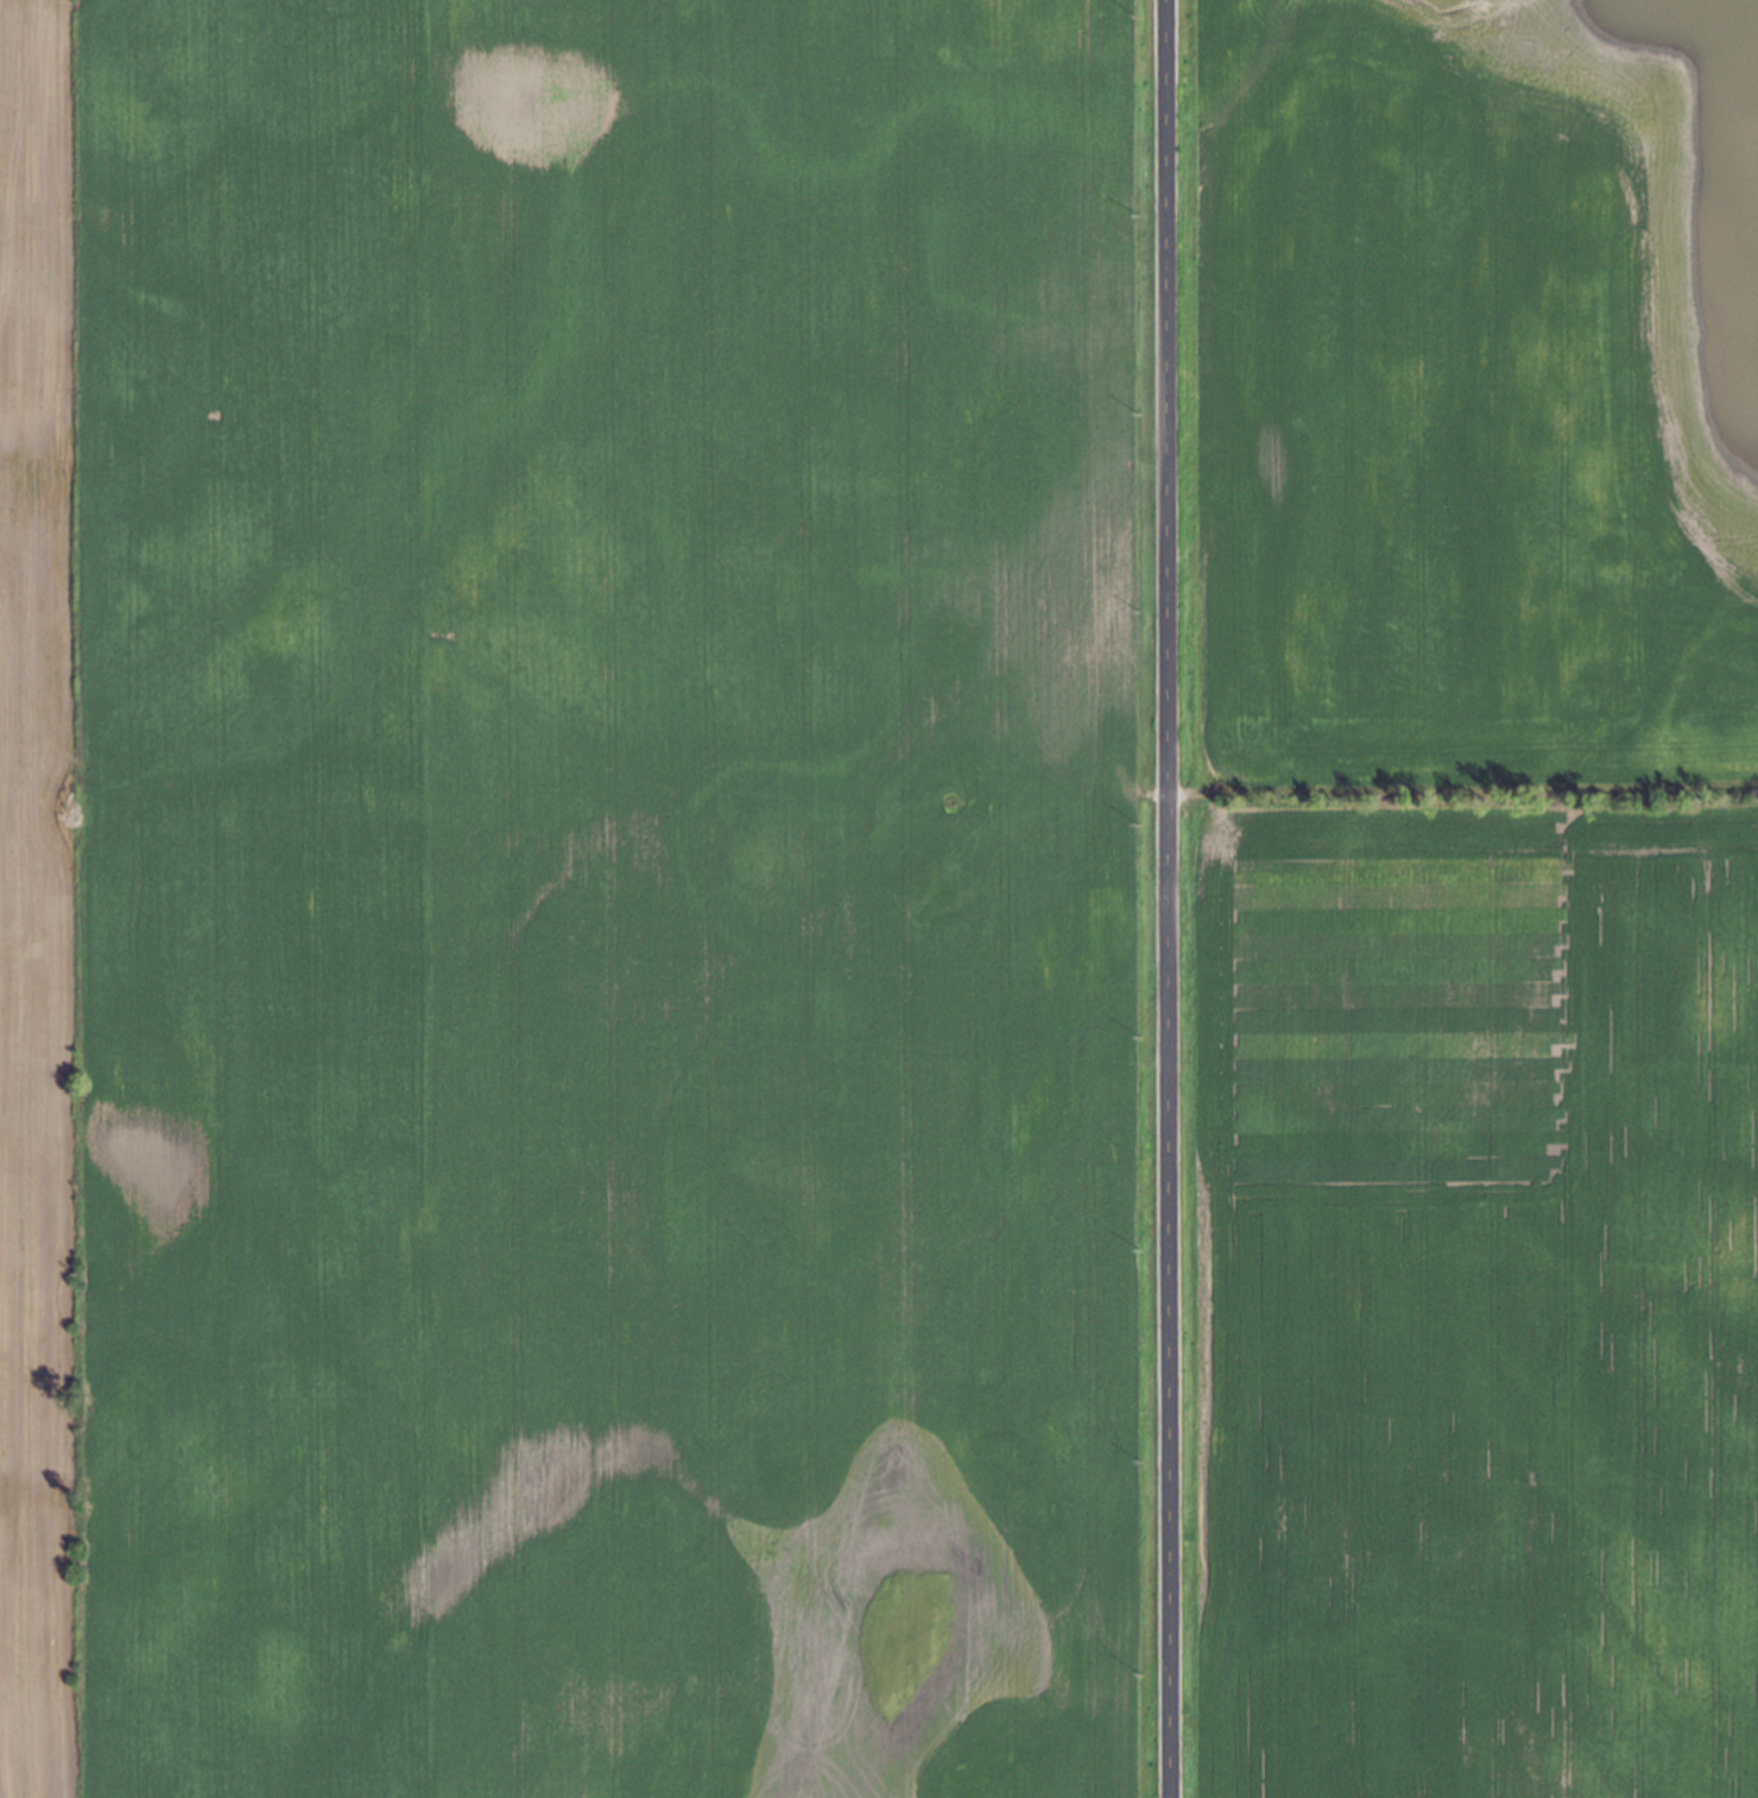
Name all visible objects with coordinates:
road: (1166, 898)

